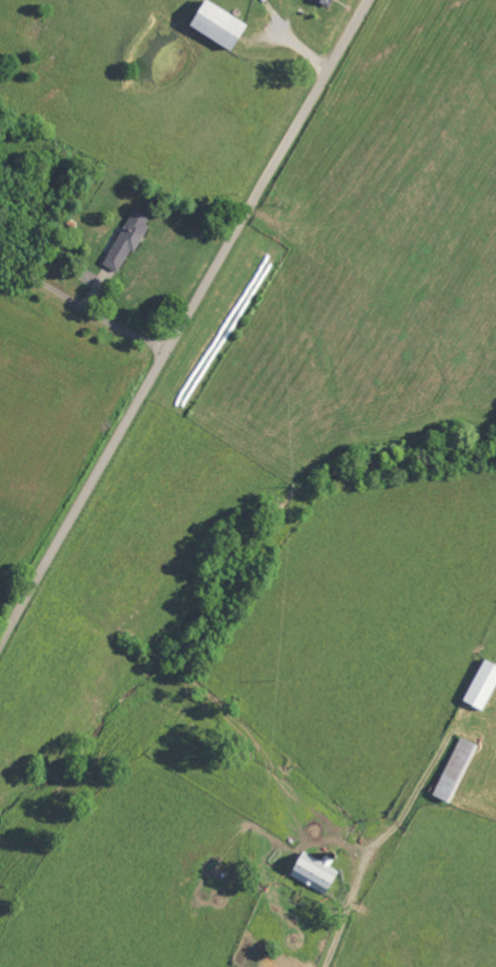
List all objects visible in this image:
building: (327, 2)
building: (218, 24)
building: (128, 239)
road: (184, 323)
building: (482, 686)
building: (455, 770)
building: (314, 872)

